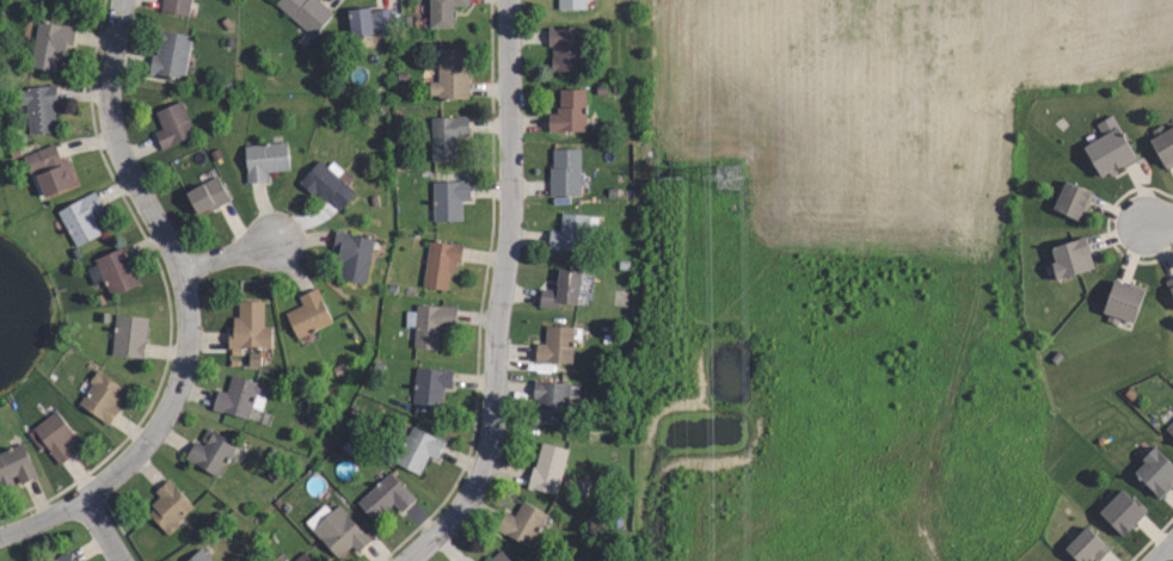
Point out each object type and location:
building: (63, 1)
building: (569, 2)
building: (176, 6)
building: (441, 11)
building: (306, 12)
building: (369, 19)
building: (51, 45)
building: (565, 49)
building: (170, 53)
building: (455, 74)
building: (39, 110)
building: (566, 111)
building: (173, 127)
building: (447, 135)
building: (1165, 144)
building: (1111, 149)
building: (264, 160)
building: (50, 171)
building: (564, 172)
power tower: (741, 178)
building: (326, 183)
building: (208, 197)
building: (448, 197)
building: (1071, 199)
building: (80, 218)
road: (1163, 221)
building: (570, 232)
building: (351, 253)
road: (226, 255)
building: (1073, 259)
road: (176, 261)
building: (440, 261)
building: (117, 270)
building: (1171, 285)
building: (563, 291)
road: (500, 295)
building: (1124, 301)
building: (311, 315)
building: (429, 322)
building: (250, 328)
building: (129, 335)
building: (557, 344)
building: (430, 383)
building: (100, 396)
building: (239, 397)
building: (552, 403)
building: (1169, 426)
building: (54, 436)
building: (418, 449)
building: (210, 451)
building: (14, 466)
building: (548, 469)
building: (1157, 471)
building: (385, 498)
building: (170, 505)
building: (1122, 512)
road: (41, 518)
building: (522, 523)
road: (100, 529)
building: (337, 529)
building: (1086, 545)
road: (1165, 551)
building: (498, 556)
building: (62, 557)
building: (198, 557)
building: (302, 557)
building: (481, 560)

